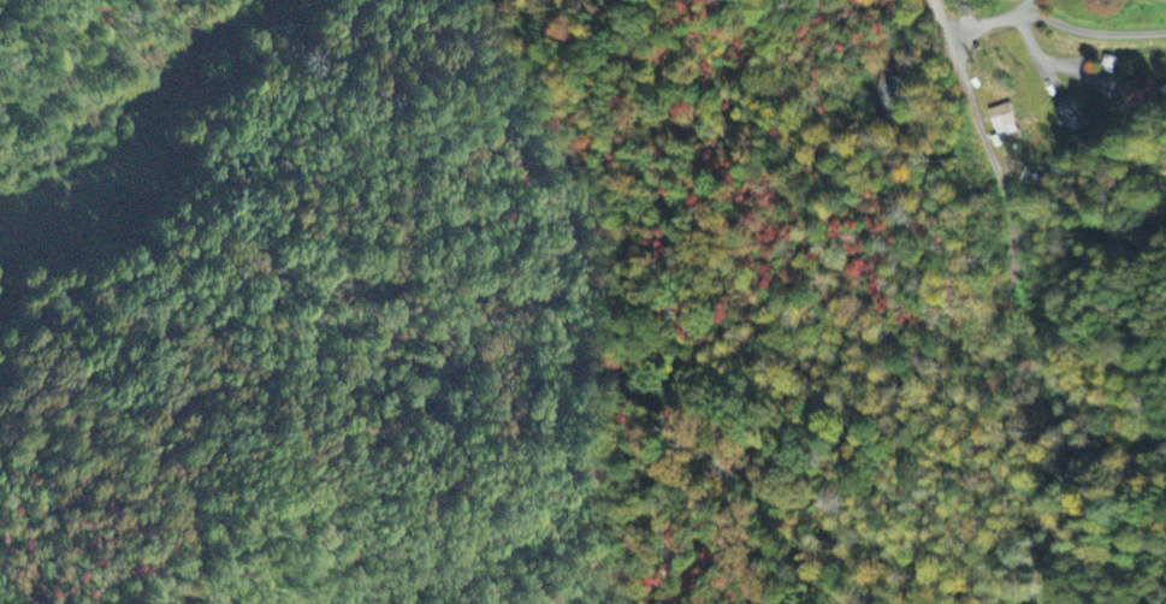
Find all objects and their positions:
building: (1014, 0)
road: (1024, 6)
road: (1053, 20)
building: (888, 89)
building: (1134, 96)
building: (1066, 116)
building: (1001, 126)
road: (978, 130)
road: (1053, 591)

